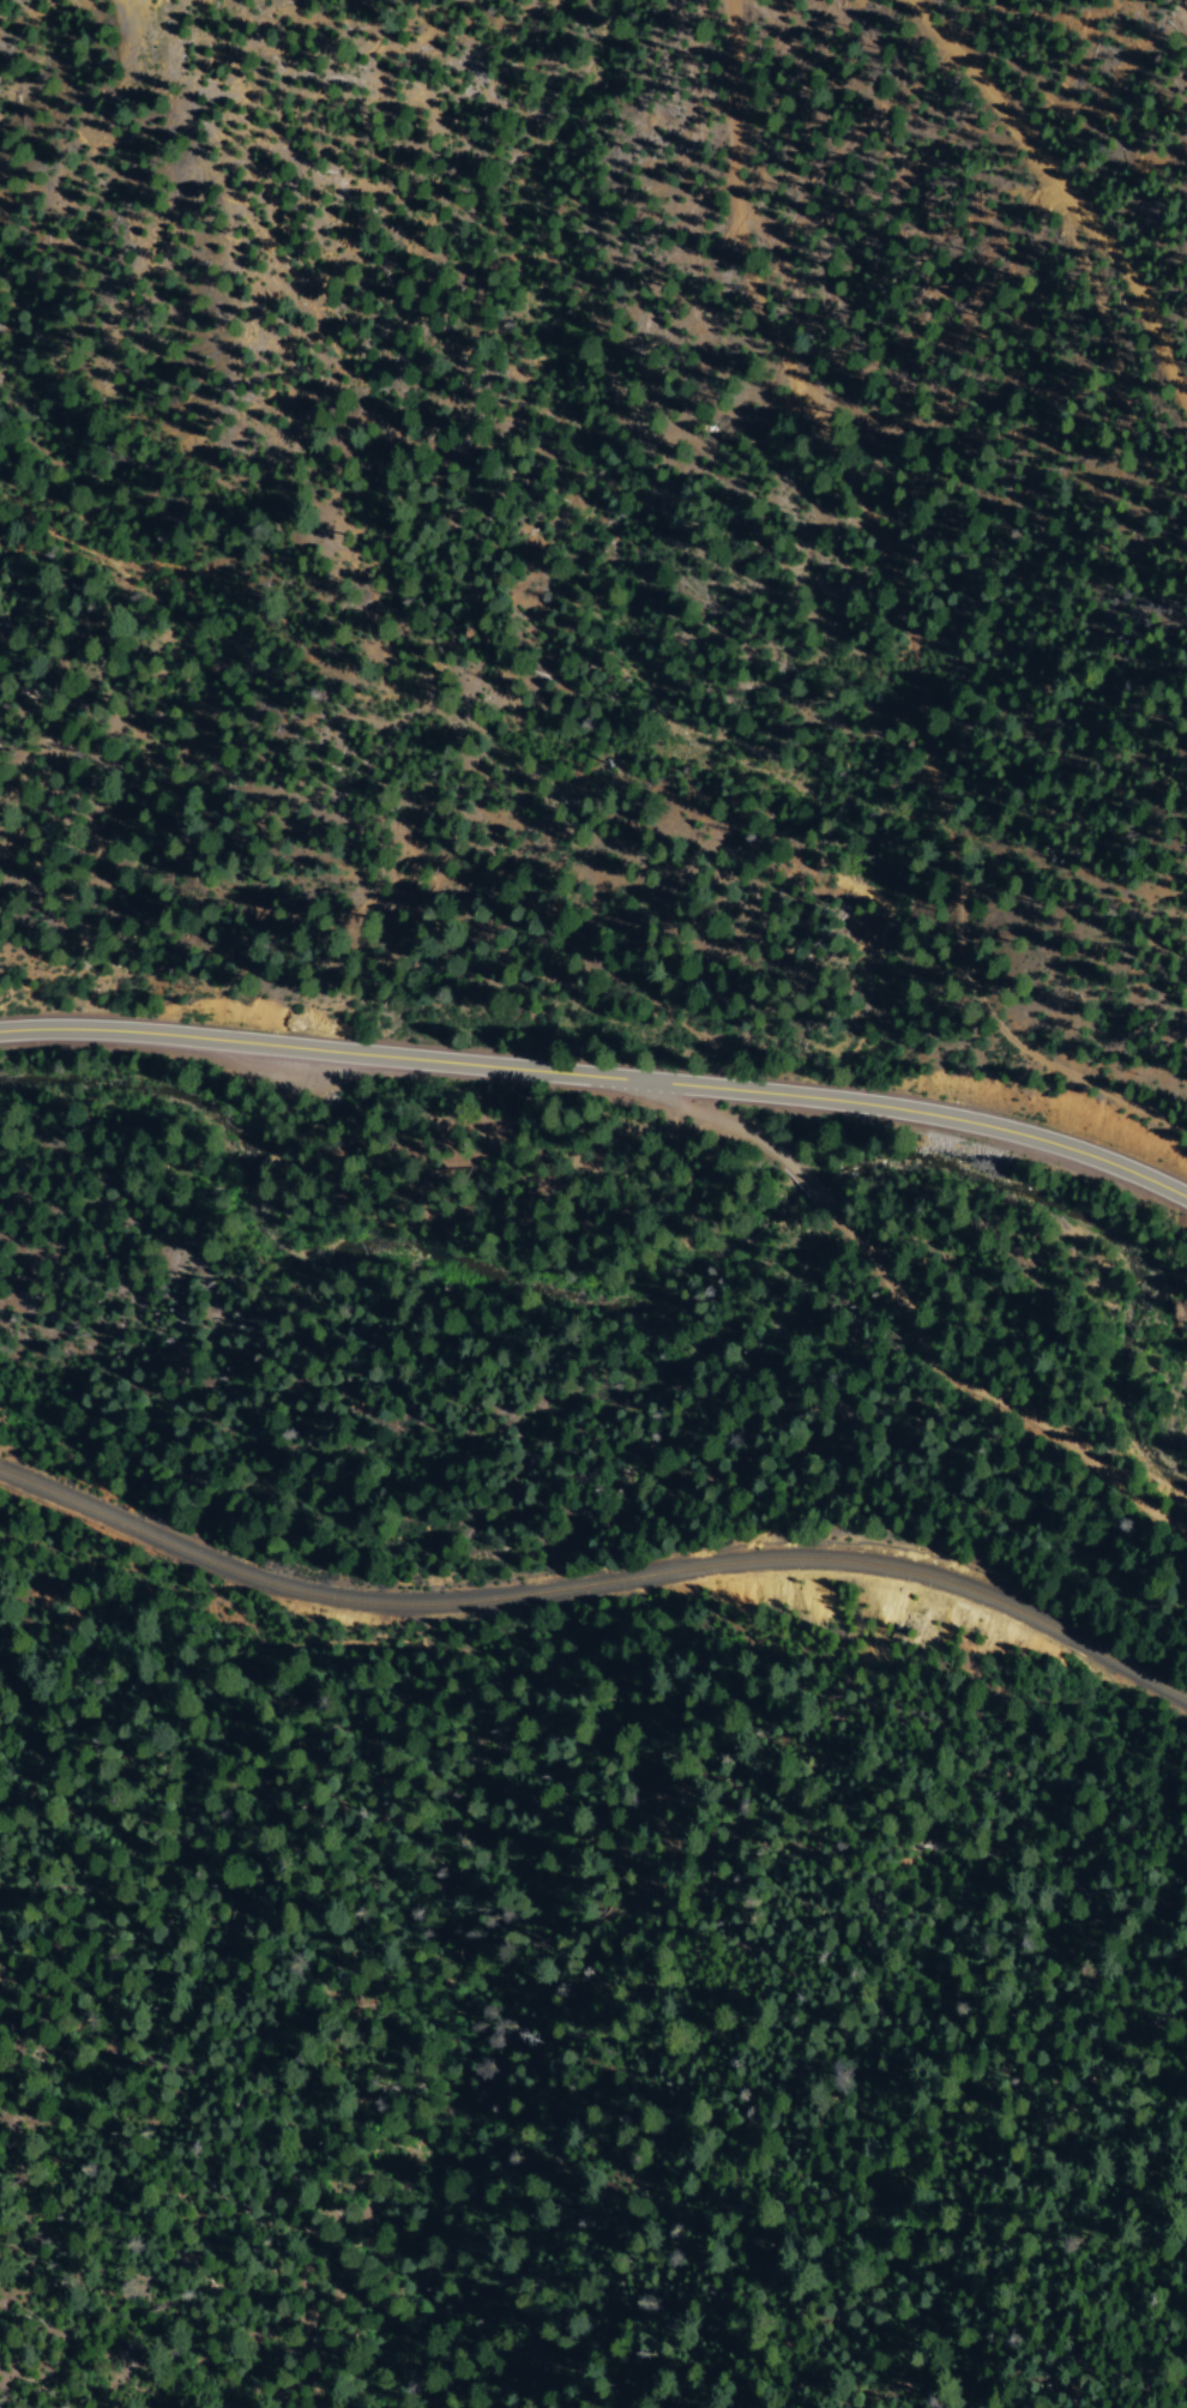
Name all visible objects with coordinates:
road: (832, 572)
road: (601, 1074)
road: (946, 1363)
railway: (595, 1581)

